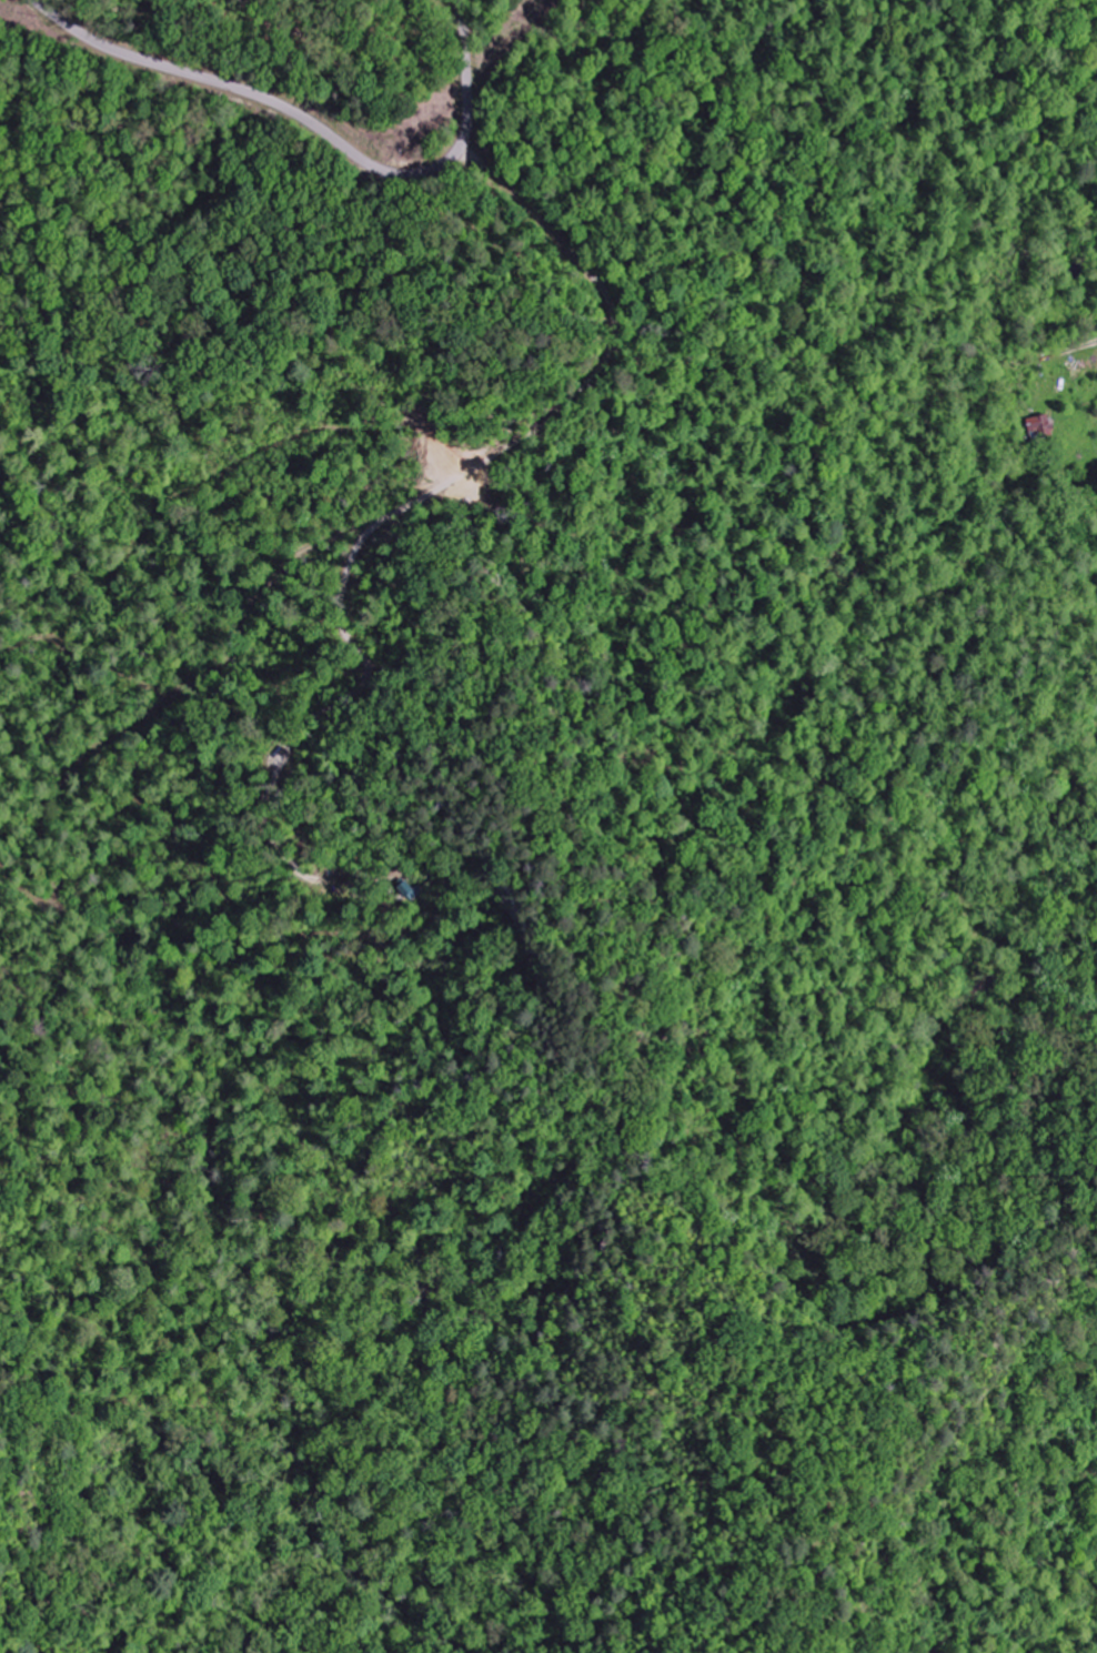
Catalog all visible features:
road: (320, 125)
road: (1081, 357)

